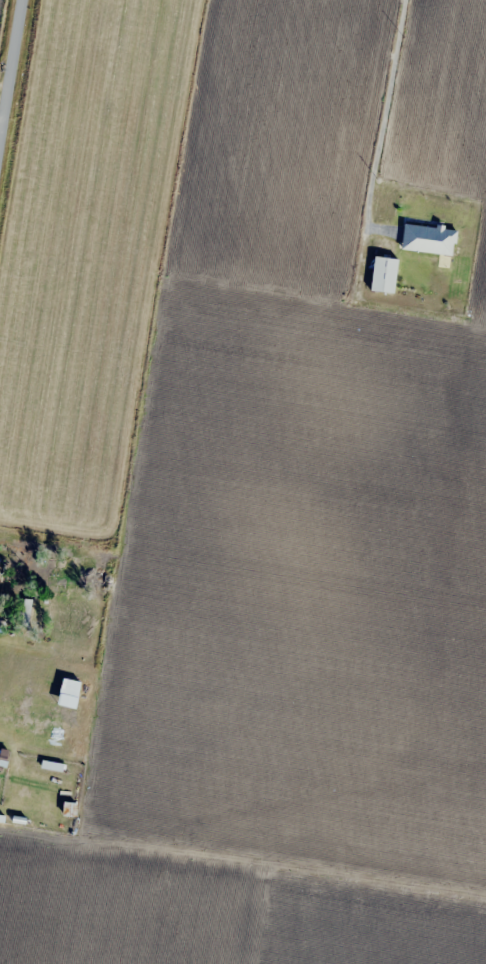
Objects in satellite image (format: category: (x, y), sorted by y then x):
road: (10, 66)
building: (427, 238)
building: (381, 273)
building: (0, 565)
building: (71, 809)

